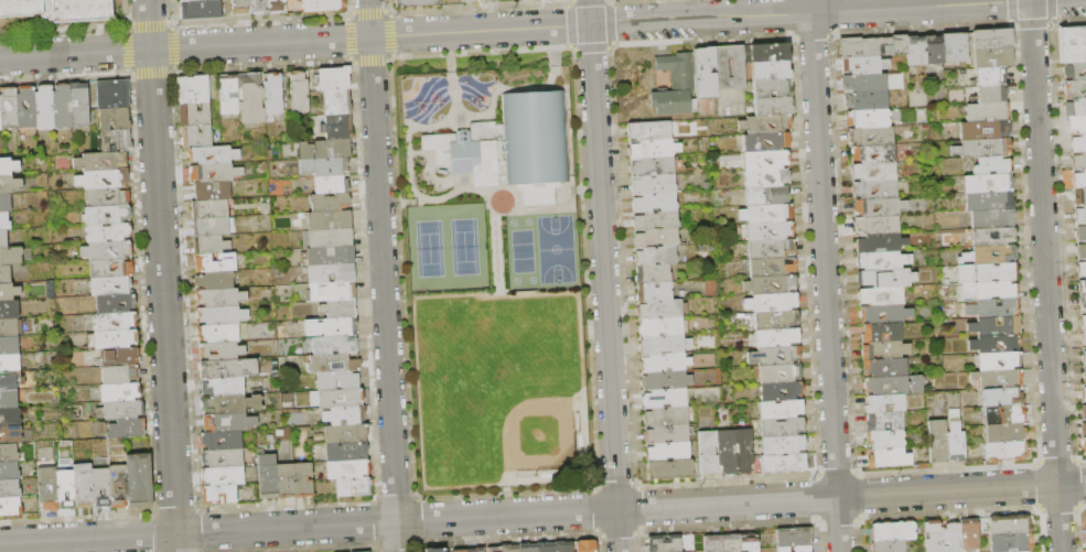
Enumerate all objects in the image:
building: (195, 1)
building: (466, 2)
building: (484, 2)
building: (538, 2)
building: (415, 6)
building: (321, 7)
building: (239, 8)
building: (258, 8)
building: (276, 8)
building: (58, 9)
building: (198, 11)
road: (515, 29)
building: (990, 39)
building: (767, 44)
building: (1072, 44)
building: (868, 45)
building: (954, 47)
building: (932, 52)
building: (914, 53)
road: (553, 56)
building: (991, 57)
building: (770, 63)
building: (727, 64)
building: (862, 64)
building: (702, 65)
building: (1074, 71)
road: (450, 75)
building: (992, 75)
building: (330, 77)
building: (770, 80)
building: (671, 82)
building: (862, 82)
building: (192, 89)
road: (497, 89)
building: (1074, 89)
building: (111, 91)
building: (295, 93)
building: (990, 93)
building: (272, 94)
building: (226, 95)
building: (249, 97)
building: (771, 99)
building: (333, 100)
building: (863, 100)
building: (61, 106)
building: (43, 107)
building: (79, 107)
building: (1075, 107)
building: (24, 108)
building: (8, 109)
building: (986, 111)
building: (193, 112)
building: (112, 118)
building: (865, 118)
building: (763, 122)
building: (1075, 125)
building: (334, 126)
building: (645, 126)
building: (983, 129)
building: (196, 136)
building: (869, 136)
building: (760, 138)
building: (114, 140)
road: (407, 140)
building: (1077, 142)
building: (648, 143)
building: (510, 147)
building: (986, 147)
building: (323, 148)
building: (870, 153)
building: (213, 154)
building: (762, 155)
building: (101, 160)
building: (650, 161)
building: (1078, 161)
building: (8, 162)
building: (986, 165)
building: (323, 166)
road: (429, 171)
road: (570, 171)
building: (871, 171)
building: (213, 172)
building: (765, 175)
building: (101, 178)
building: (1078, 178)
building: (8, 180)
building: (650, 180)
building: (987, 183)
building: (330, 184)
road: (461, 188)
road: (585, 188)
building: (872, 188)
road: (568, 190)
building: (209, 191)
building: (766, 193)
building: (106, 195)
building: (1078, 195)
building: (652, 197)
building: (3, 198)
road: (419, 201)
building: (988, 201)
building: (321, 203)
road: (391, 204)
building: (874, 206)
building: (209, 209)
building: (765, 212)
building: (1079, 213)
building: (106, 214)
building: (653, 215)
building: (4, 217)
building: (990, 218)
building: (321, 220)
park: (528, 221)
park: (512, 223)
building: (875, 225)
building: (212, 227)
building: (767, 228)
building: (1079, 230)
building: (107, 232)
building: (654, 232)
building: (2, 235)
building: (991, 236)
building: (327, 238)
building: (209, 243)
building: (877, 243)
building: (768, 246)
road: (495, 247)
park: (448, 248)
park: (555, 249)
building: (1080, 249)
building: (107, 250)
building: (654, 250)
park: (522, 251)
building: (9, 252)
building: (329, 255)
building: (992, 255)
building: (214, 261)
building: (878, 261)
building: (770, 263)
building: (109, 268)
building: (1080, 268)
building: (652, 269)
building: (3, 271)
building: (330, 272)
park: (493, 272)
building: (993, 272)
road: (162, 275)
road: (383, 275)
road: (603, 275)
road: (825, 275)
road: (1045, 275)
building: (214, 279)
park: (516, 280)
park: (531, 280)
building: (771, 280)
building: (879, 280)
building: (110, 284)
building: (1082, 285)
building: (652, 288)
building: (3, 289)
building: (993, 290)
building: (330, 291)
building: (221, 296)
building: (880, 296)
building: (771, 297)
building: (112, 302)
building: (1082, 302)
building: (657, 305)
building: (8, 306)
building: (994, 309)
building: (331, 310)
building: (880, 314)
building: (222, 315)
road: (413, 316)
building: (774, 316)
building: (114, 320)
building: (1082, 320)
building: (8, 323)
building: (659, 324)
building: (996, 326)
building: (326, 327)
building: (216, 333)
building: (774, 333)
building: (880, 333)
building: (114, 337)
building: (1082, 337)
building: (8, 340)
building: (659, 340)
park: (495, 344)
building: (997, 344)
building: (331, 345)
building: (221, 350)
building: (776, 350)
building: (881, 350)
building: (116, 355)
building: (1084, 356)
building: (9, 358)
building: (660, 359)
building: (998, 361)
building: (331, 362)
building: (226, 368)
building: (883, 368)
building: (777, 369)
building: (118, 372)
building: (1085, 375)
building: (6, 376)
building: (662, 376)
building: (998, 379)
building: (334, 380)
park: (495, 386)
building: (884, 386)
building: (219, 387)
building: (778, 387)
building: (117, 390)
building: (1085, 390)
building: (8, 393)
building: (664, 394)
building: (338, 398)
building: (999, 398)
building: (883, 403)
building: (221, 404)
building: (779, 404)
building: (119, 409)
building: (9, 411)
building: (1083, 411)
building: (665, 413)
building: (341, 415)
building: (999, 415)
building: (883, 421)
building: (222, 422)
building: (779, 422)
building: (120, 426)
building: (9, 429)
building: (1084, 429)
building: (665, 432)
building: (342, 433)
building: (1001, 434)
building: (884, 439)
building: (222, 440)
building: (781, 441)
building: (936, 442)
building: (742, 445)
building: (1084, 445)
building: (723, 446)
building: (954, 446)
building: (7, 448)
building: (706, 448)
building: (666, 450)
building: (1002, 451)
building: (343, 452)
building: (221, 458)
building: (885, 458)
building: (783, 461)
building: (96, 462)
building: (8, 466)
building: (667, 467)
building: (344, 469)
building: (136, 476)
building: (222, 476)
building: (302, 479)
building: (283, 480)
building: (78, 481)
building: (115, 481)
building: (266, 481)
building: (8, 484)
building: (97, 484)
building: (44, 485)
building: (62, 485)
building: (352, 487)
building: (218, 495)
road: (506, 499)
building: (9, 502)
road: (542, 513)
building: (1007, 524)
building: (891, 530)
building: (792, 535)
building: (932, 535)
building: (968, 535)
building: (949, 538)
building: (1008, 540)
building: (663, 542)
building: (728, 542)
building: (745, 542)
building: (711, 543)
building: (581, 545)
building: (886, 545)
building: (542, 546)
building: (560, 546)
building: (430, 548)
building: (525, 548)
building: (793, 548)
building: (490, 549)
building: (506, 549)
building: (455, 550)
building: (472, 550)
building: (362, 551)
building: (668, 551)
building: (1014, 551)

